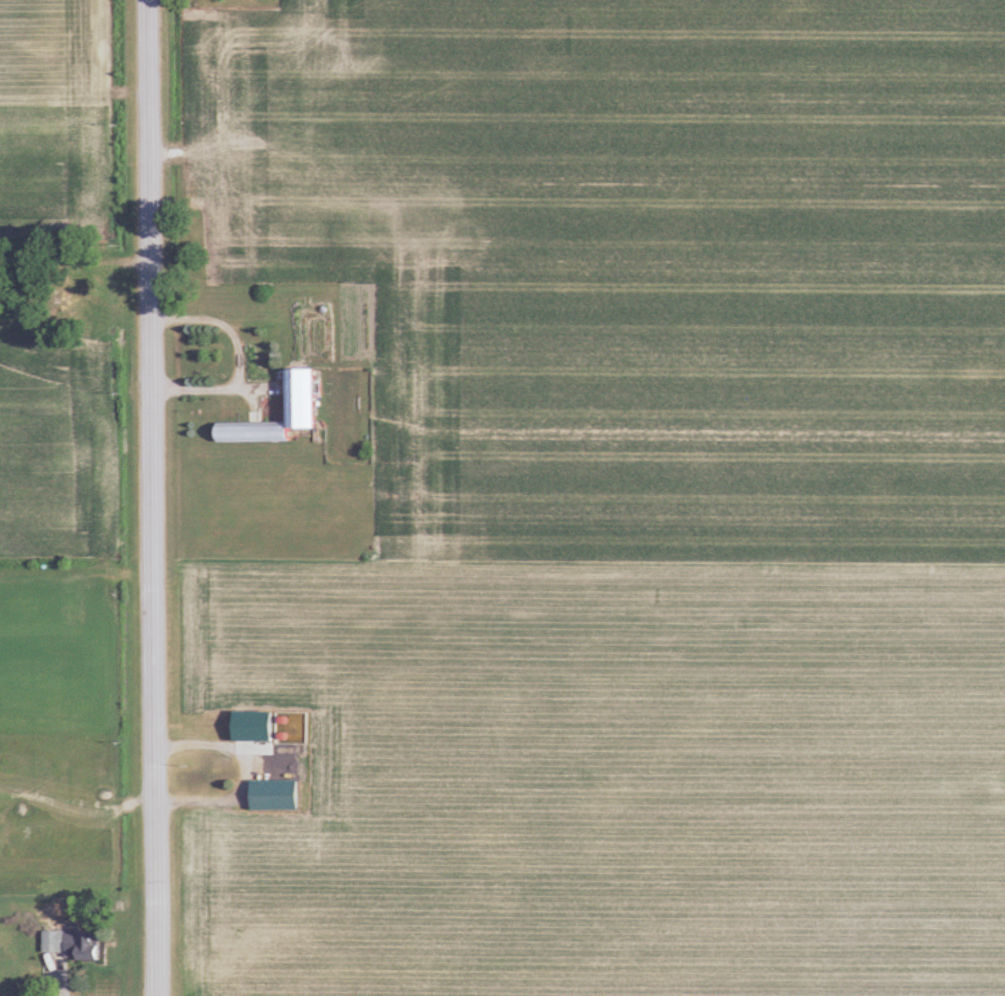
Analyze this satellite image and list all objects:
building: (304, 398)
road: (153, 498)
building: (210, 727)
building: (73, 944)

